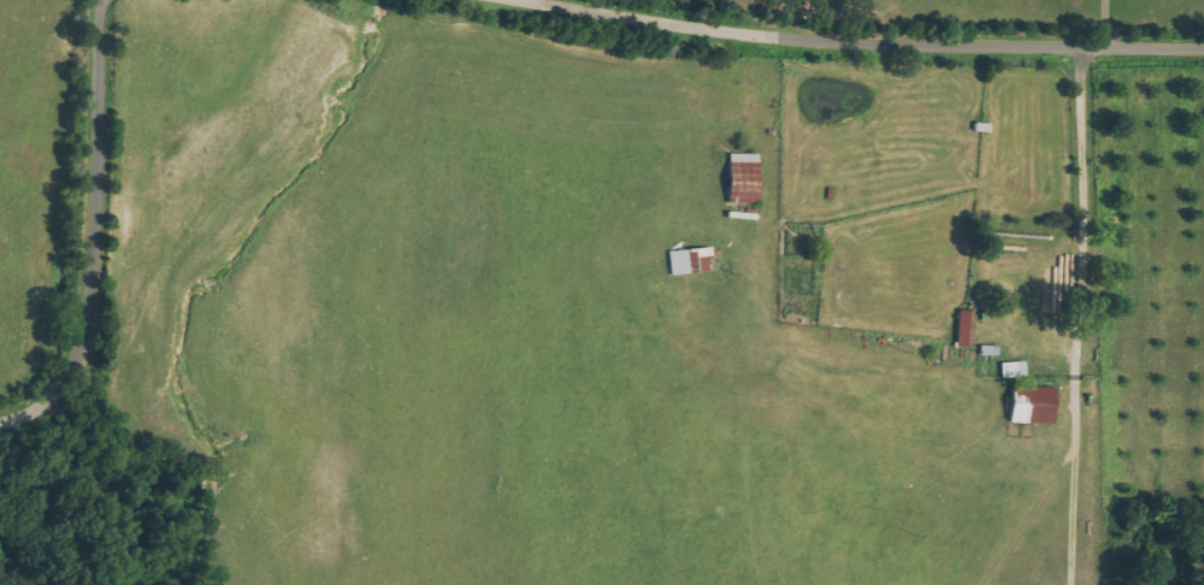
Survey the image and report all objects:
road: (860, 43)
building: (740, 179)
road: (94, 234)
building: (689, 261)
road: (1074, 315)
building: (962, 329)
building: (1011, 370)
building: (1029, 404)

